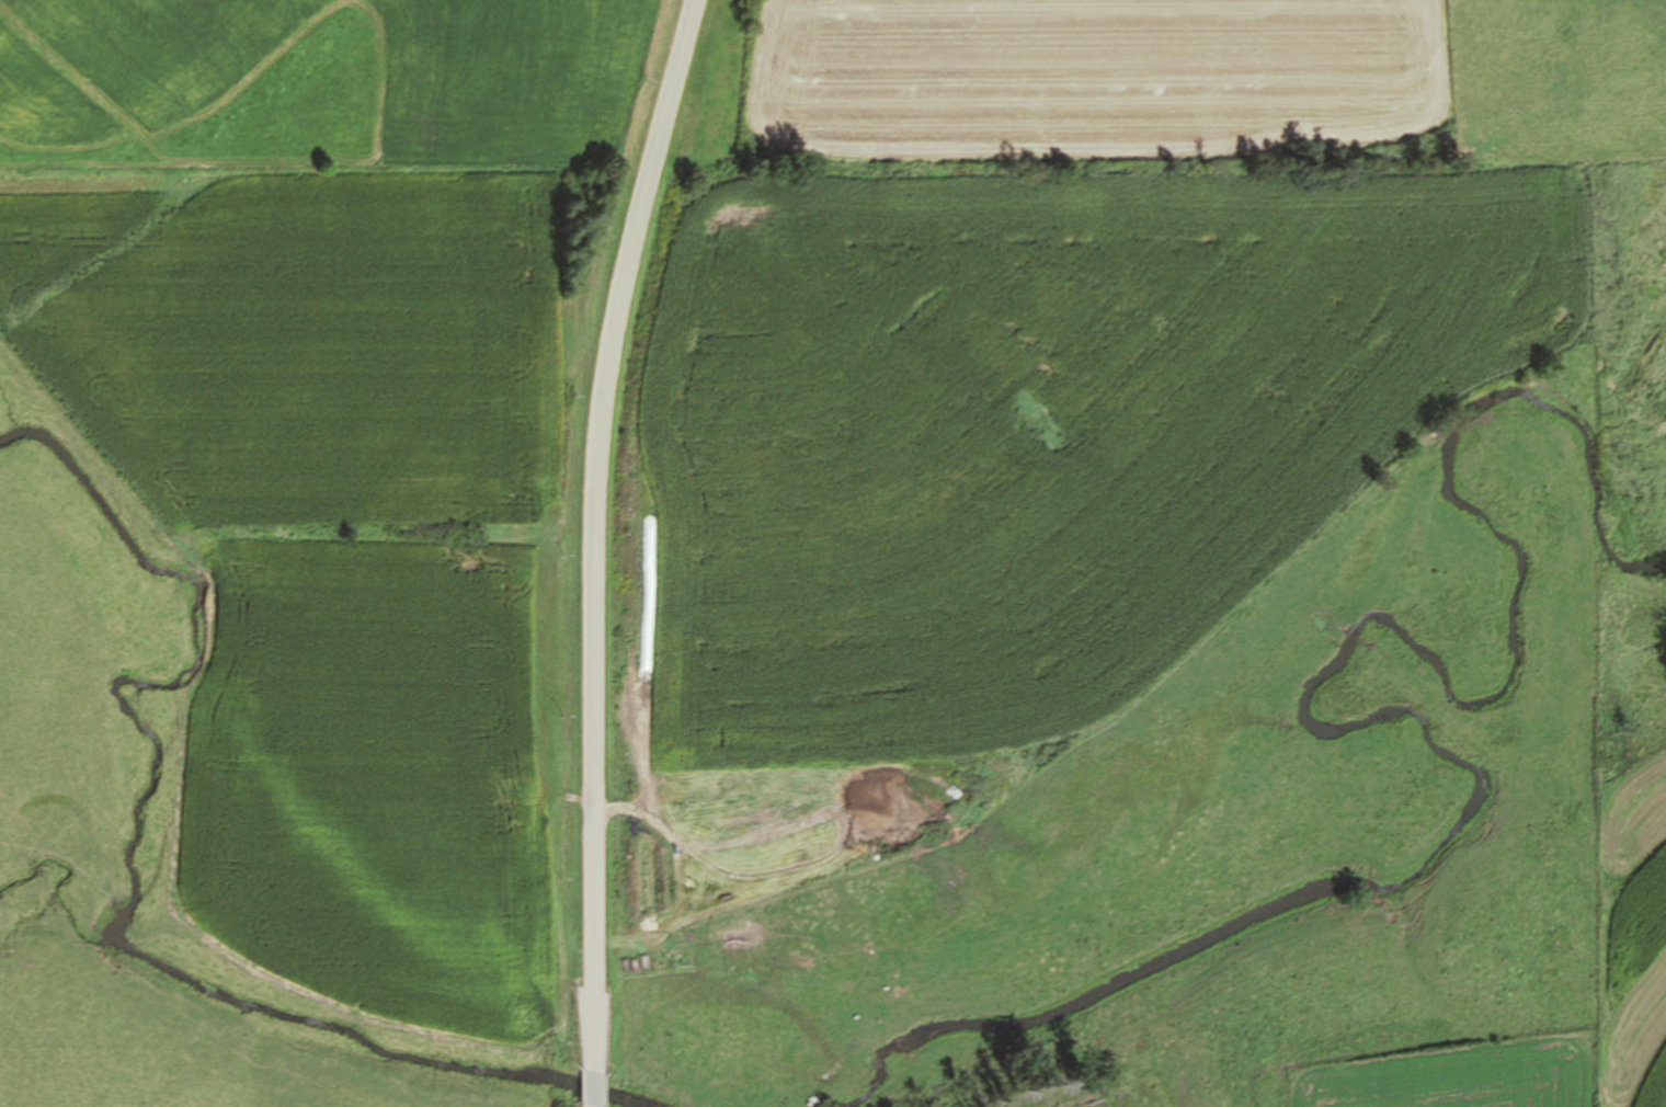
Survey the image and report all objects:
road: (595, 530)
river: (1334, 726)
river: (136, 881)
road: (593, 1089)

